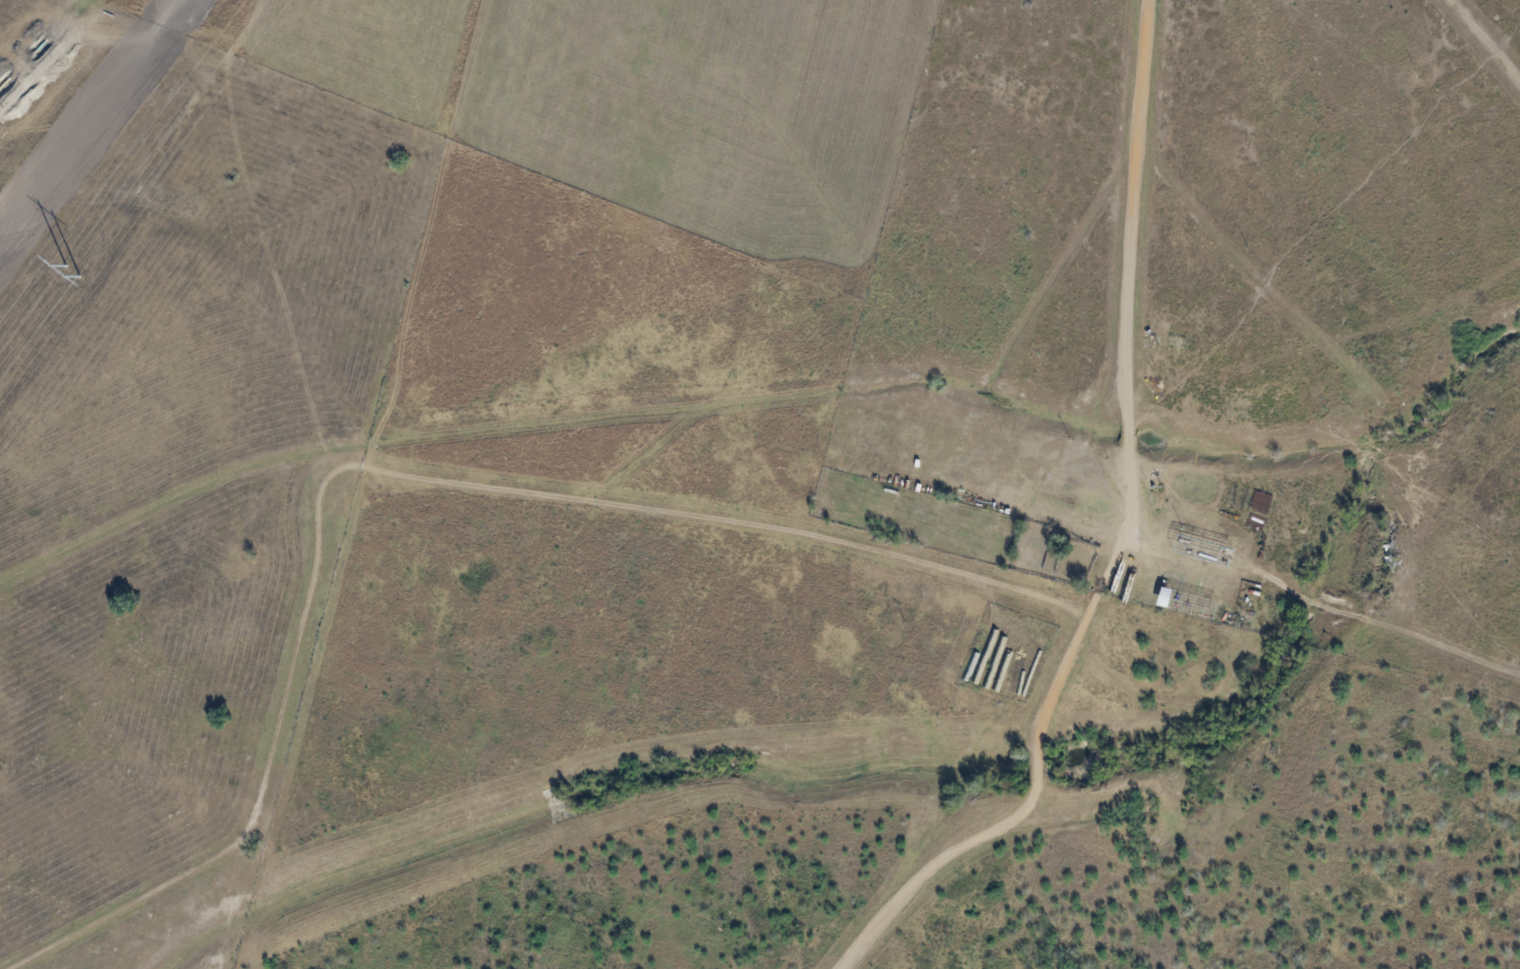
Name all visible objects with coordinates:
power tower: (80, 264)
road: (1124, 542)

